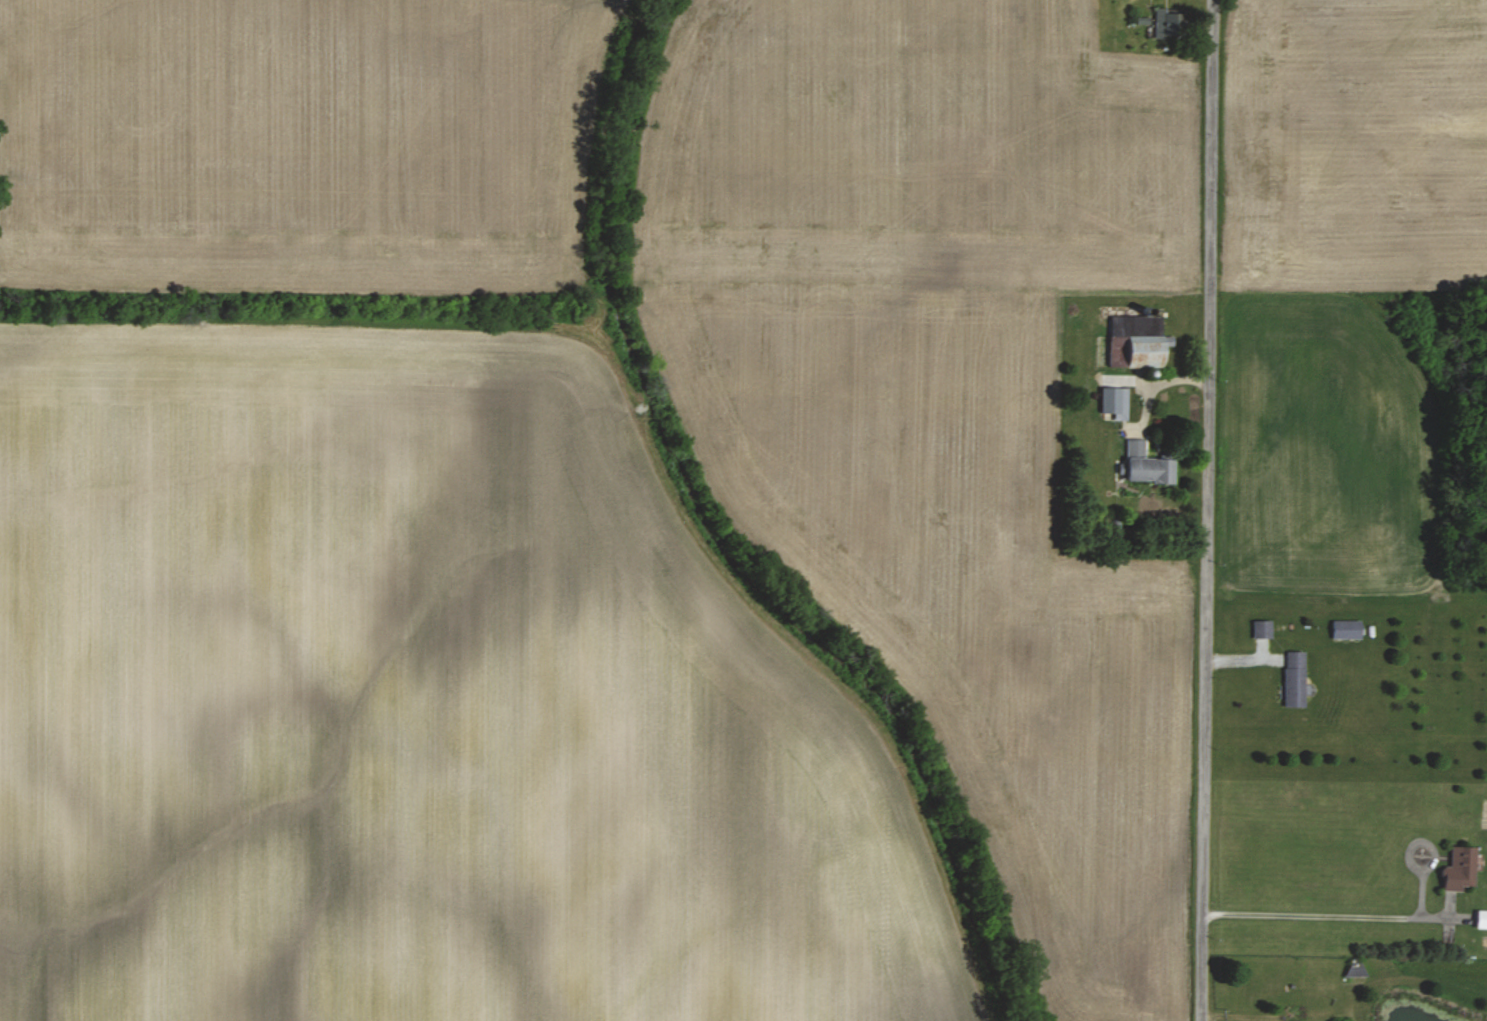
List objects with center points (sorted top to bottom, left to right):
building: (1162, 24)
building: (1133, 345)
building: (1114, 401)
building: (1145, 464)
road: (1205, 510)
building: (1261, 628)
building: (1345, 629)
building: (1293, 678)
building: (1458, 868)
road: (1332, 916)
building: (1480, 919)
road: (1263, 1016)

